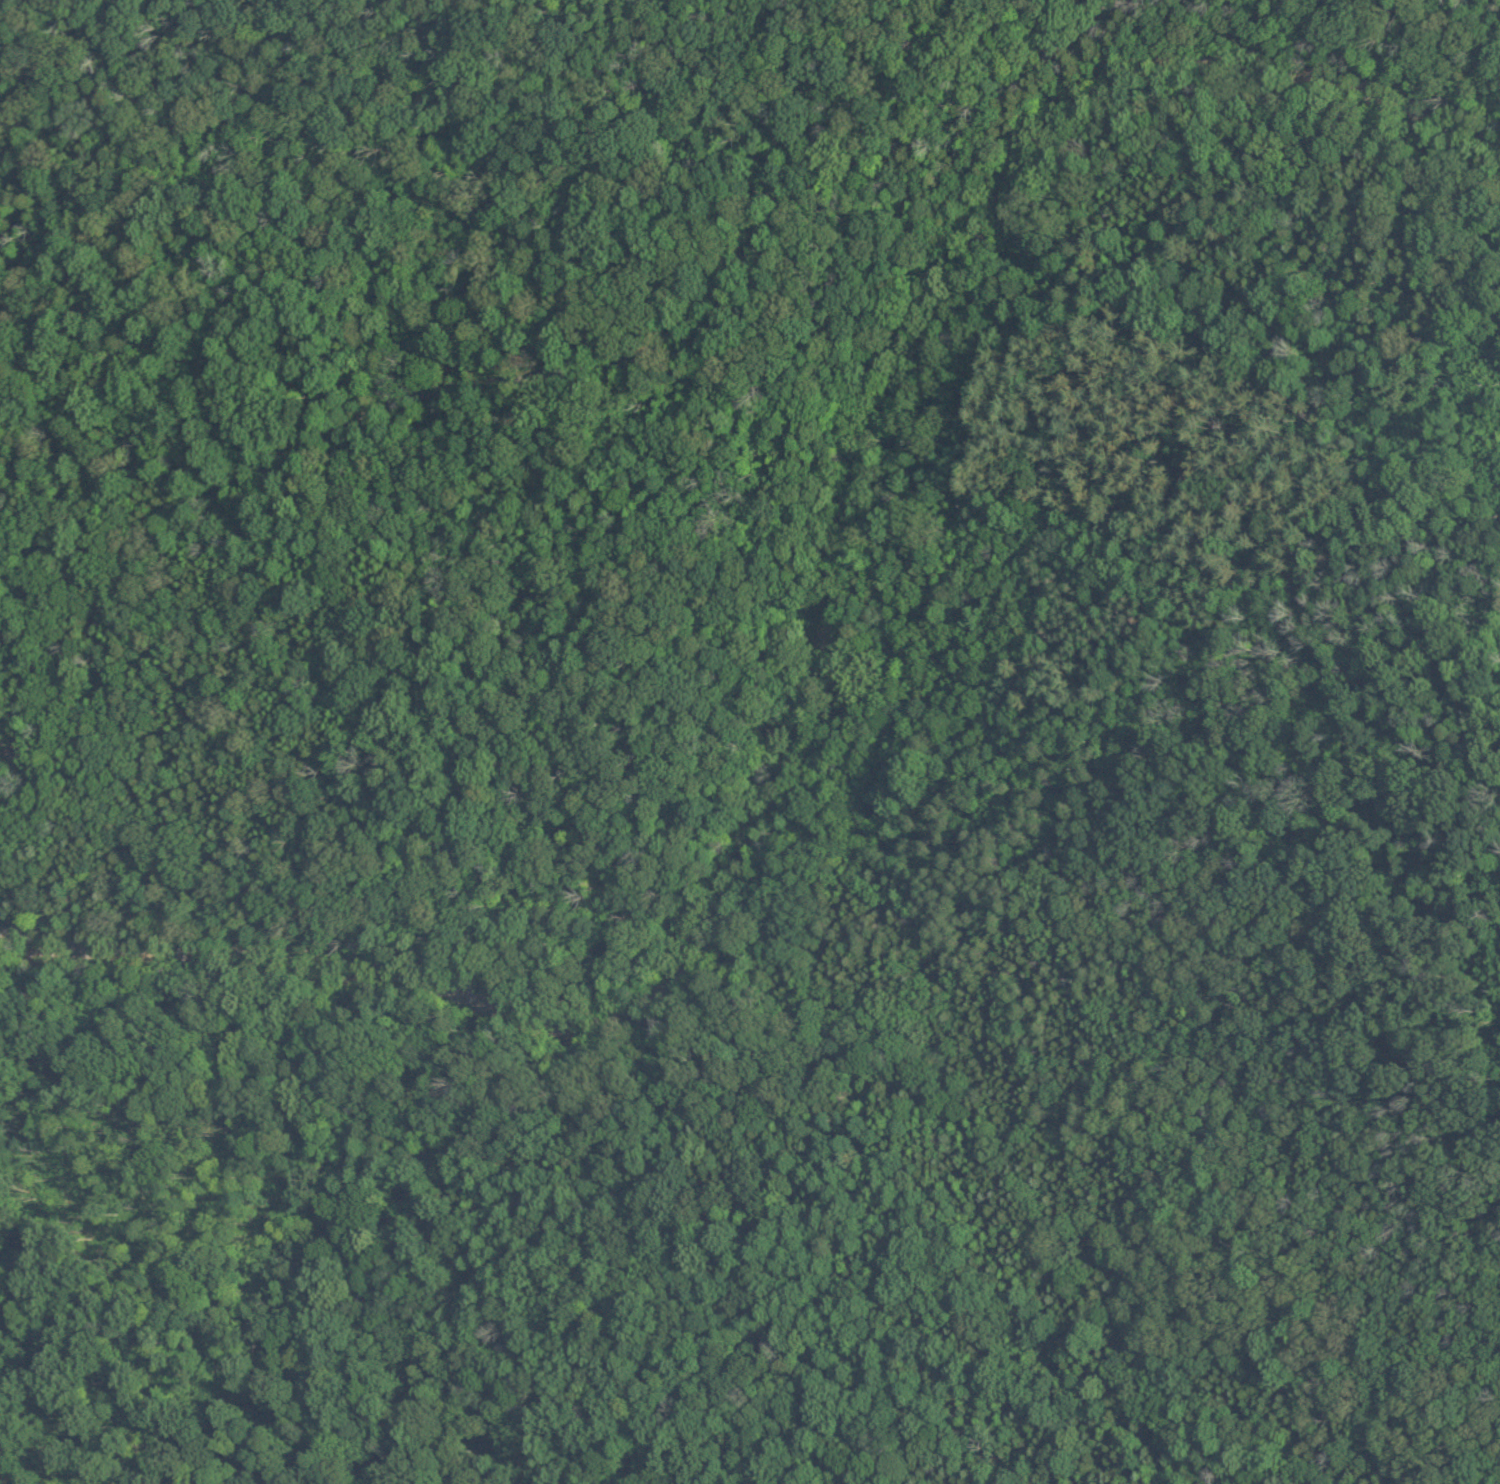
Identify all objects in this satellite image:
road: (546, 373)
park: (461, 433)
road: (700, 1065)
road: (99, 1399)

